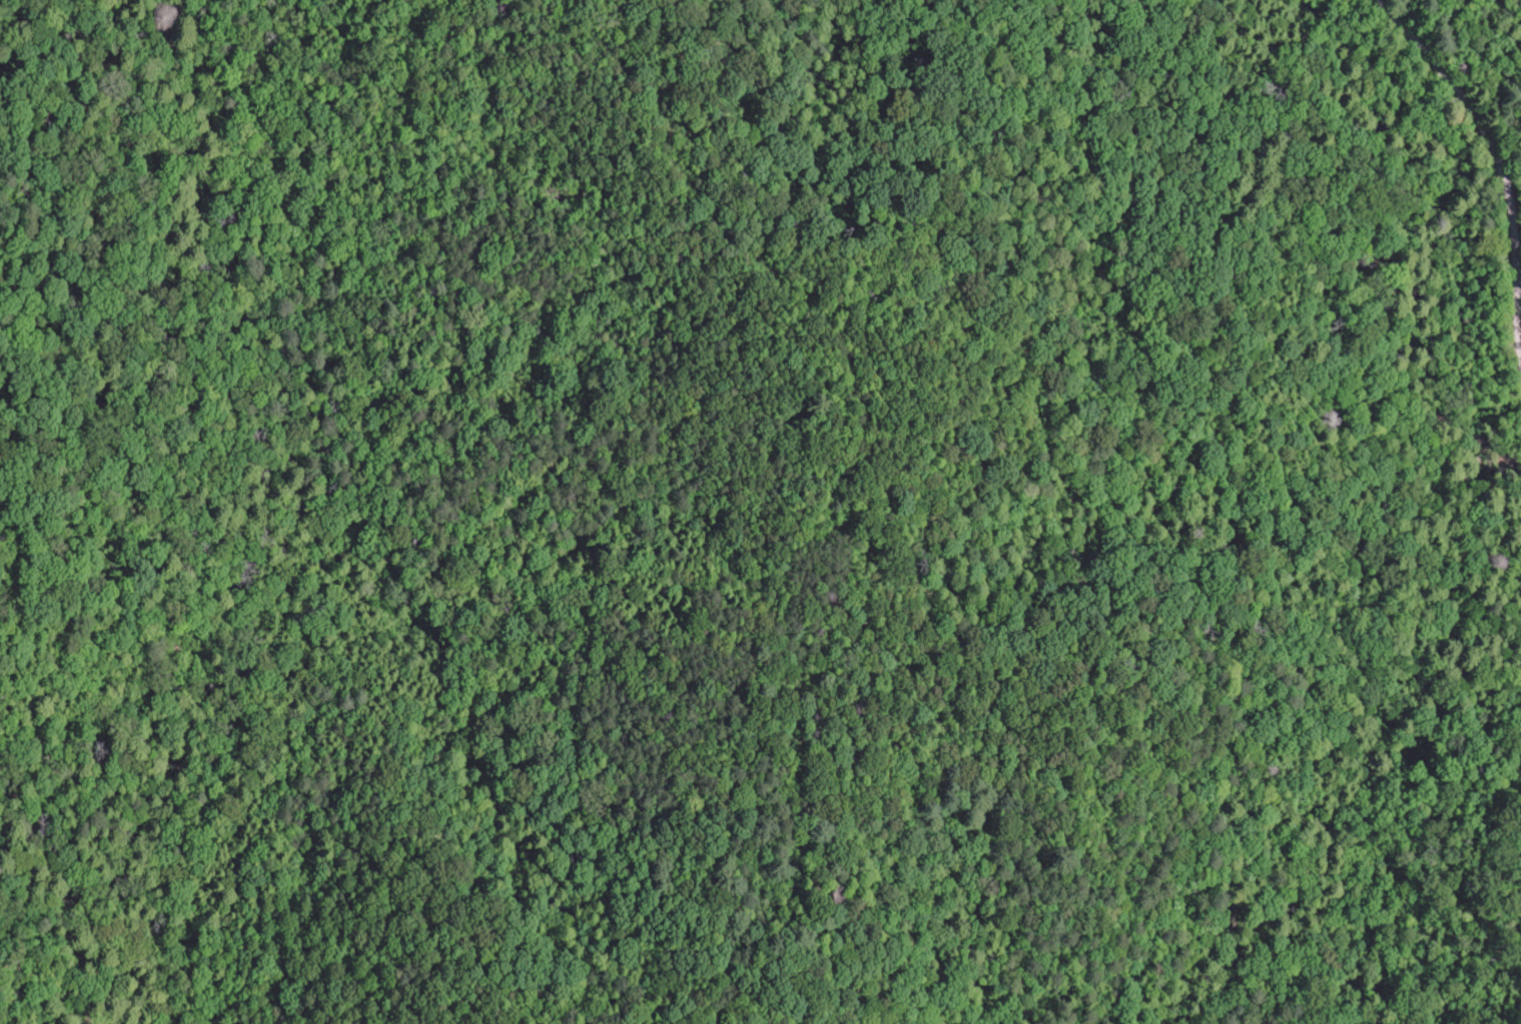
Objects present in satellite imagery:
road: (1486, 134)
road: (1394, 251)

